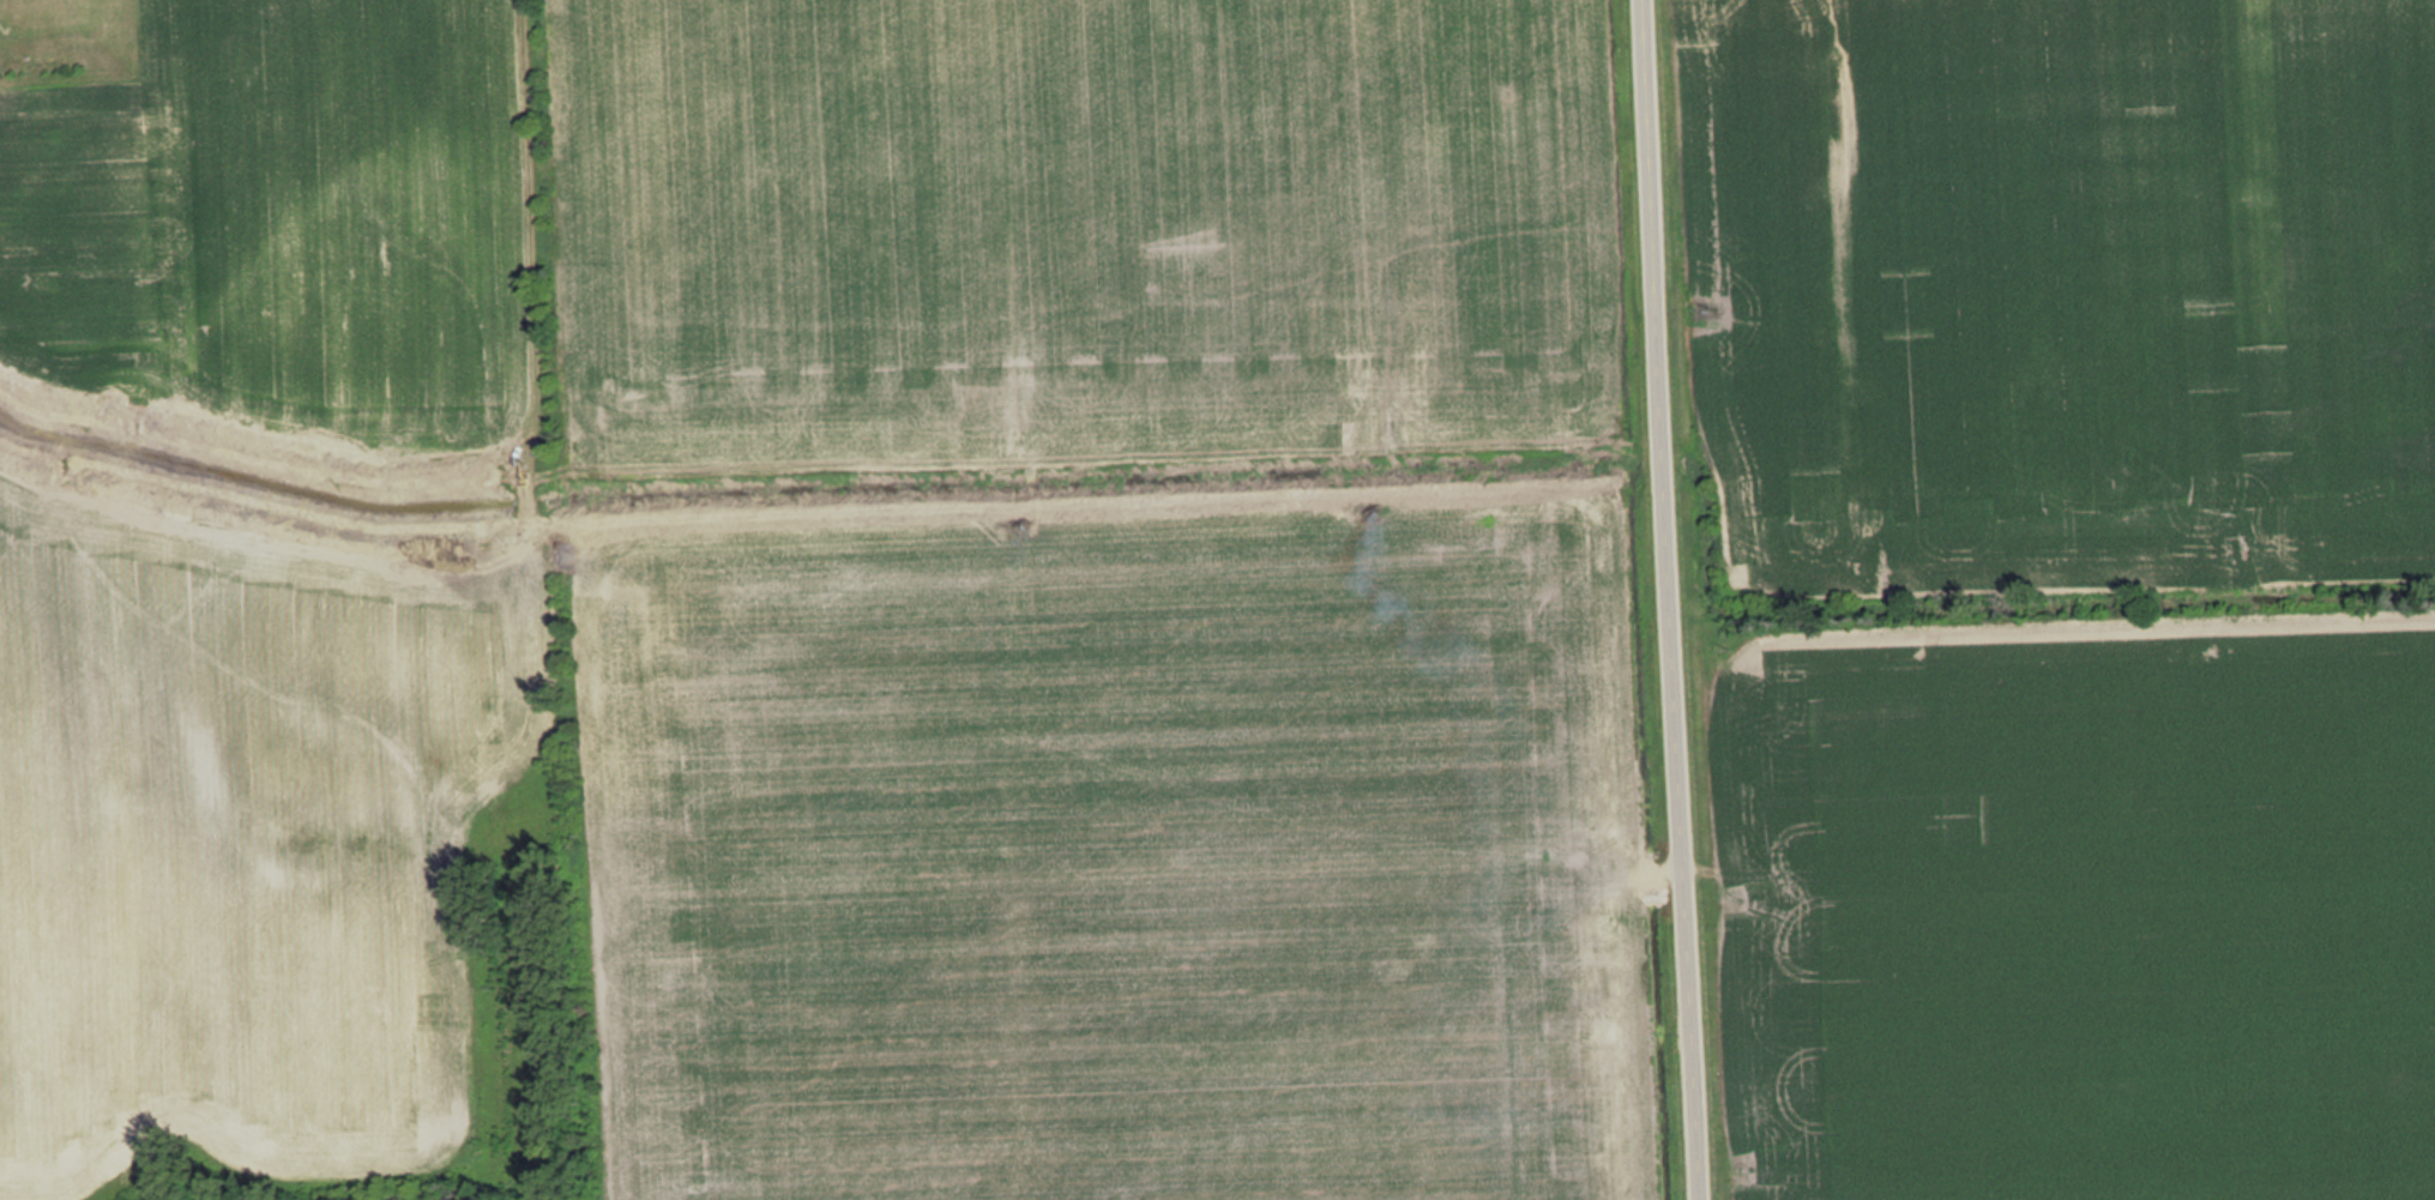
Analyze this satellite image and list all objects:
road: (1678, 599)

